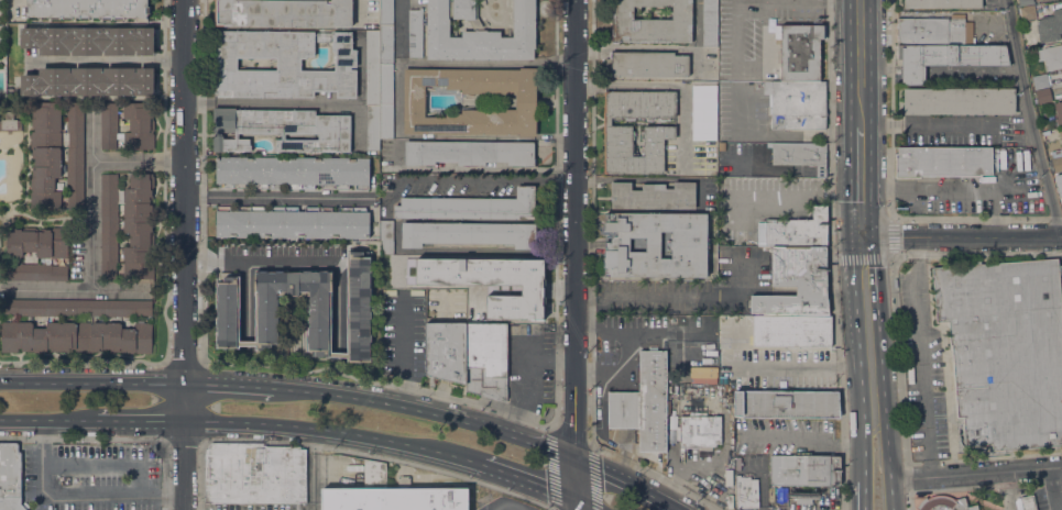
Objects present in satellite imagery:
building: (1025, 2)
building: (942, 3)
building: (87, 9)
road: (358, 11)
building: (1027, 12)
building: (283, 13)
building: (652, 22)
building: (709, 23)
building: (1050, 26)
building: (385, 31)
building: (415, 32)
building: (930, 32)
building: (479, 33)
road: (736, 36)
building: (89, 41)
road: (659, 47)
building: (799, 52)
building: (1050, 56)
building: (946, 59)
road: (114, 62)
building: (282, 64)
building: (646, 64)
road: (861, 64)
building: (372, 67)
building: (1040, 80)
building: (88, 81)
building: (1043, 96)
building: (385, 101)
building: (415, 101)
building: (959, 101)
road: (291, 103)
building: (796, 103)
building: (704, 112)
building: (1058, 112)
road: (1030, 120)
building: (10, 123)
building: (127, 124)
building: (372, 127)
building: (281, 129)
building: (657, 132)
building: (1060, 133)
road: (777, 134)
road: (91, 135)
road: (458, 135)
building: (722, 146)
building: (469, 153)
building: (45, 154)
building: (75, 155)
building: (800, 155)
building: (945, 163)
building: (1055, 165)
building: (292, 171)
road: (462, 178)
building: (1058, 179)
road: (861, 182)
building: (653, 195)
road: (277, 196)
road: (778, 198)
building: (469, 207)
road: (819, 215)
road: (843, 215)
road: (90, 222)
building: (293, 222)
building: (127, 225)
building: (793, 231)
building: (468, 233)
building: (386, 237)
road: (961, 239)
building: (656, 244)
road: (576, 251)
building: (37, 254)
road: (186, 254)
road: (831, 255)
railway: (862, 255)
road: (256, 260)
building: (486, 281)
building: (796, 282)
road: (846, 289)
road: (118, 290)
road: (811, 290)
road: (592, 292)
road: (685, 296)
building: (76, 307)
road: (866, 308)
building: (228, 318)
building: (791, 331)
building: (76, 336)
road: (399, 346)
building: (446, 351)
building: (1004, 351)
road: (920, 356)
building: (486, 359)
road: (786, 366)
road: (525, 373)
road: (92, 382)
road: (229, 385)
building: (643, 403)
building: (788, 403)
road: (426, 411)
road: (868, 417)
road: (48, 421)
road: (142, 421)
building: (672, 422)
road: (329, 431)
building: (699, 431)
building: (672, 436)
road: (571, 437)
road: (43, 442)
road: (890, 443)
road: (592, 445)
building: (704, 453)
road: (106, 464)
road: (311, 469)
road: (556, 469)
building: (803, 469)
road: (977, 472)
building: (254, 473)
building: (10, 477)
building: (727, 477)
road: (591, 478)
road: (523, 480)
road: (854, 480)
road: (629, 481)
road: (762, 481)
road: (864, 481)
road: (1053, 488)
building: (746, 492)
building: (392, 495)
building: (770, 495)
road: (100, 496)
building: (804, 496)
building: (730, 501)
building: (1026, 502)
road: (907, 503)
building: (944, 503)
road: (576, 506)
road: (584, 506)
road: (507, 507)

